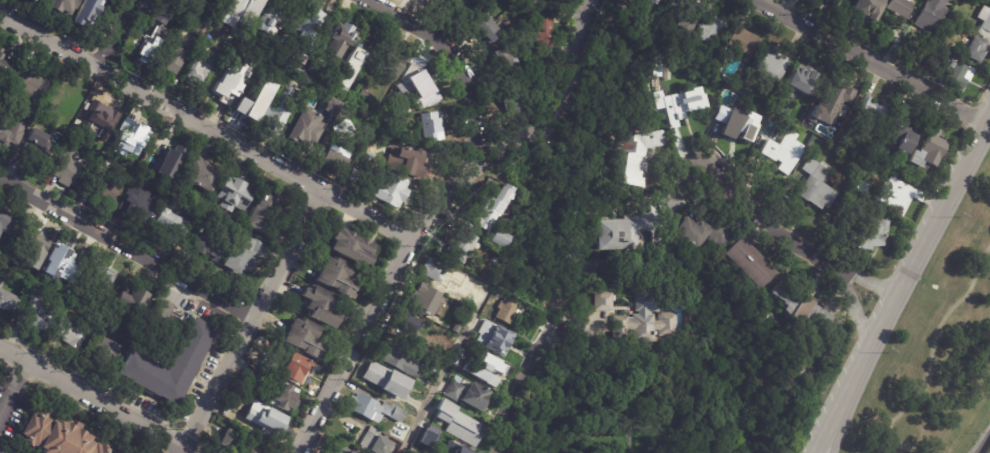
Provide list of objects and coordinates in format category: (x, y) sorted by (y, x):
building: (29, 0)
building: (218, 0)
building: (38, 1)
building: (434, 1)
building: (652, 1)
road: (584, 2)
building: (829, 2)
building: (59, 6)
building: (900, 7)
building: (865, 8)
building: (461, 9)
building: (84, 12)
road: (581, 12)
building: (236, 13)
building: (930, 15)
building: (680, 17)
building: (270, 19)
building: (290, 19)
building: (984, 22)
building: (708, 27)
building: (307, 28)
building: (487, 30)
building: (198, 31)
building: (542, 32)
road: (113, 33)
building: (153, 37)
building: (742, 40)
building: (975, 48)
building: (329, 52)
building: (174, 59)
road: (454, 59)
road: (872, 63)
building: (772, 64)
building: (504, 65)
building: (198, 67)
building: (391, 67)
building: (4, 70)
building: (348, 70)
building: (666, 70)
building: (956, 73)
building: (419, 75)
building: (800, 78)
building: (30, 81)
building: (228, 84)
building: (8, 95)
building: (366, 95)
building: (252, 103)
building: (831, 103)
building: (513, 104)
building: (678, 104)
building: (779, 106)
building: (330, 108)
building: (539, 110)
building: (870, 113)
building: (275, 114)
building: (97, 117)
building: (737, 124)
road: (205, 127)
building: (302, 129)
building: (432, 129)
building: (899, 132)
building: (129, 133)
building: (10, 134)
building: (36, 148)
building: (338, 148)
building: (926, 150)
building: (782, 151)
building: (171, 154)
building: (636, 155)
building: (405, 164)
building: (69, 171)
building: (198, 175)
building: (353, 177)
building: (815, 184)
building: (860, 187)
building: (107, 188)
building: (391, 192)
building: (231, 194)
building: (895, 196)
building: (133, 208)
building: (490, 209)
building: (258, 218)
road: (428, 219)
road: (768, 222)
building: (6, 223)
building: (169, 227)
building: (623, 230)
building: (702, 230)
building: (868, 233)
building: (497, 238)
building: (461, 245)
building: (206, 246)
road: (126, 248)
building: (31, 249)
building: (349, 249)
building: (243, 256)
building: (749, 261)
building: (65, 263)
building: (433, 271)
building: (100, 275)
building: (335, 279)
road: (867, 281)
building: (1, 284)
road: (902, 286)
building: (424, 299)
building: (600, 300)
building: (7, 303)
building: (130, 304)
building: (800, 307)
road: (854, 307)
building: (319, 308)
building: (506, 310)
building: (36, 316)
building: (164, 318)
road: (251, 318)
building: (407, 322)
building: (646, 326)
building: (68, 335)
building: (492, 336)
building: (302, 340)
road: (929, 351)
building: (104, 353)
building: (397, 360)
building: (478, 363)
building: (168, 367)
road: (442, 369)
building: (292, 370)
road: (23, 375)
building: (384, 381)
road: (519, 385)
road: (14, 387)
building: (467, 392)
road: (96, 399)
building: (282, 399)
road: (6, 401)
building: (363, 407)
building: (392, 411)
building: (225, 412)
building: (267, 420)
building: (458, 422)
road: (840, 423)
building: (58, 436)
building: (228, 440)
building: (373, 441)
building: (423, 443)
road: (985, 446)
building: (265, 448)
building: (339, 448)
road: (178, 449)
building: (410, 450)
building: (451, 450)

